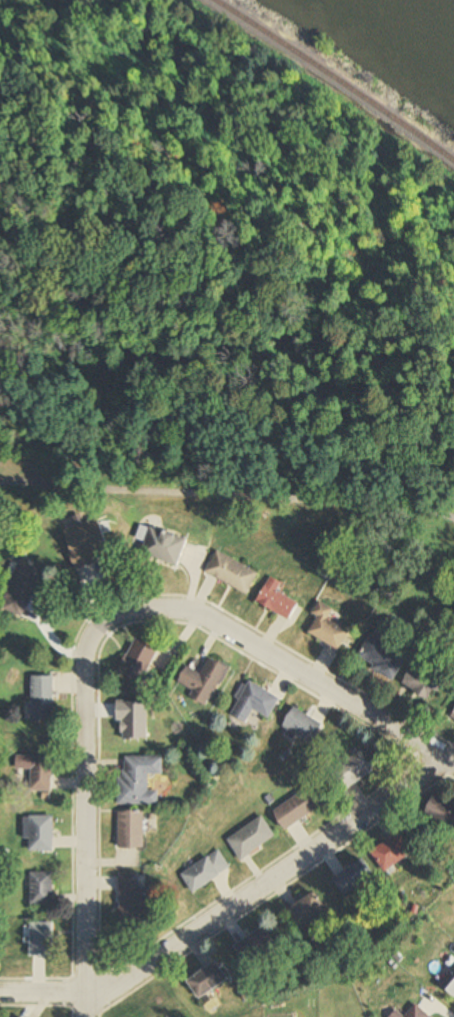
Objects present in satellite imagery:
railway: (333, 78)
road: (227, 491)
building: (164, 546)
building: (233, 573)
building: (21, 591)
building: (278, 599)
building: (328, 627)
building: (382, 657)
building: (139, 660)
road: (281, 664)
building: (204, 681)
building: (424, 681)
building: (42, 699)
building: (254, 702)
building: (453, 713)
building: (303, 726)
building: (352, 770)
building: (41, 773)
building: (140, 780)
road: (85, 804)
building: (296, 810)
building: (441, 812)
building: (132, 830)
building: (39, 833)
building: (251, 838)
building: (392, 852)
building: (206, 871)
building: (354, 878)
building: (41, 888)
building: (132, 901)
road: (231, 905)
building: (306, 911)
building: (42, 940)
building: (259, 948)
building: (206, 981)
building: (449, 983)
road: (85, 1005)
building: (418, 1013)
building: (396, 1015)

